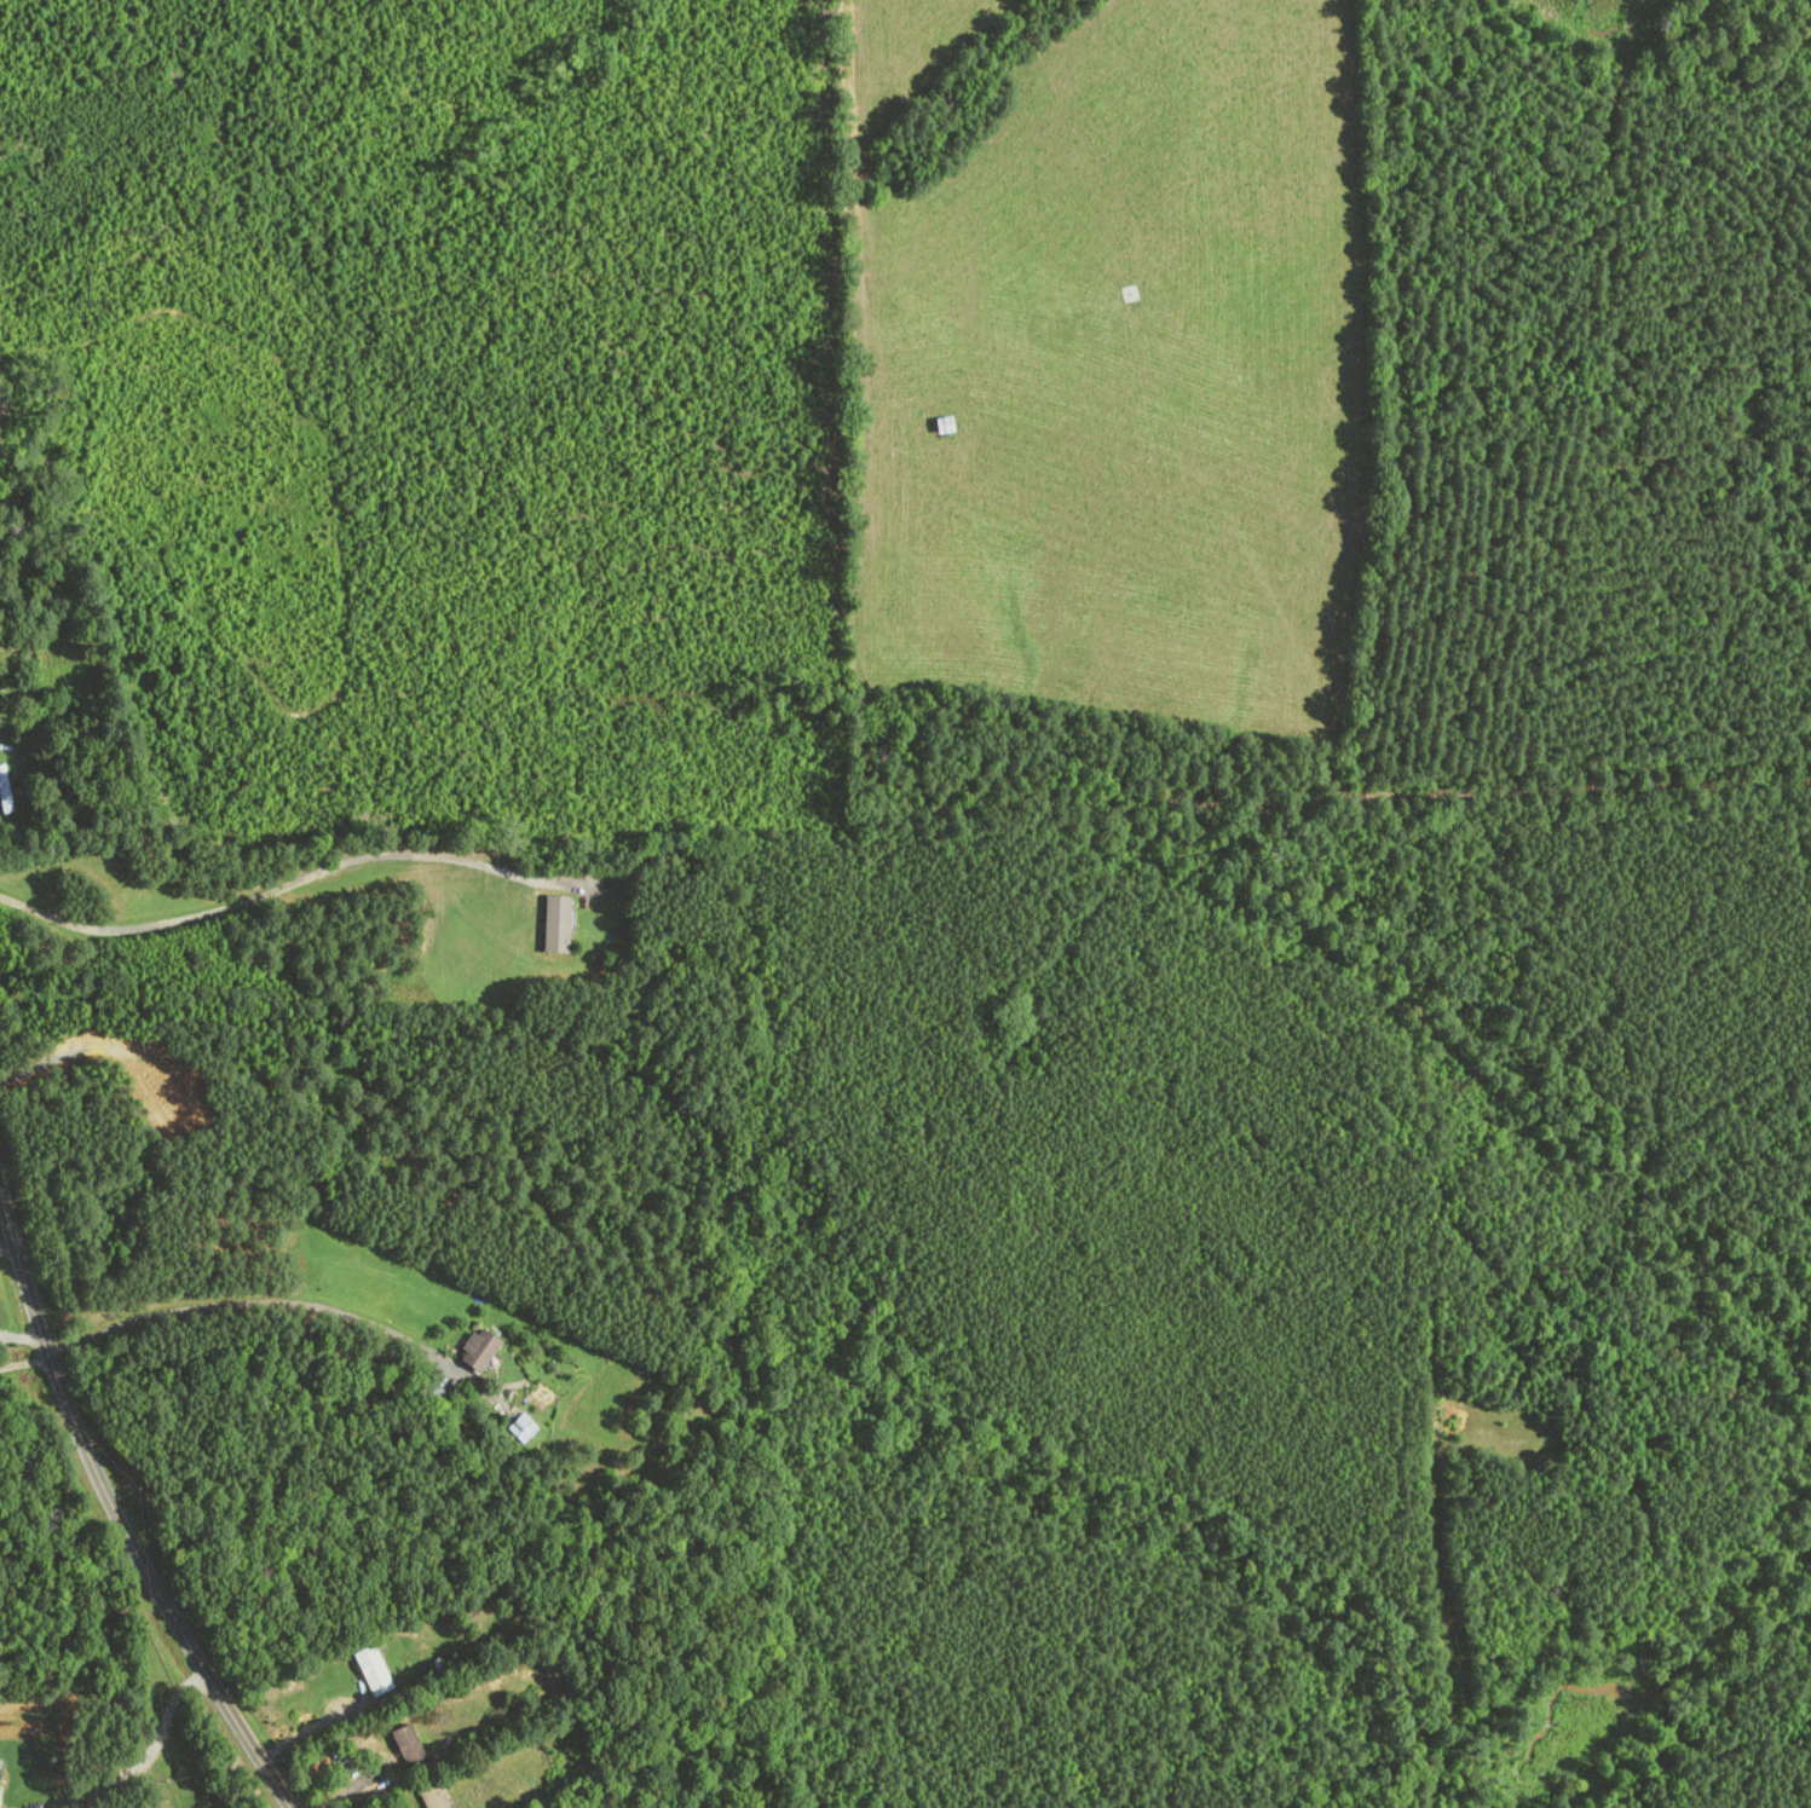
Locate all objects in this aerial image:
crop: (913, 48)
crop: (1134, 376)
building: (5, 790)
road: (267, 893)
building: (560, 924)
road: (12, 1249)
road: (261, 1301)
road: (27, 1338)
building: (483, 1350)
road: (28, 1363)
road: (110, 1501)
building: (376, 1670)
road: (308, 1731)
building: (411, 1746)
road: (145, 1761)
building: (1, 1775)
building: (439, 1797)

